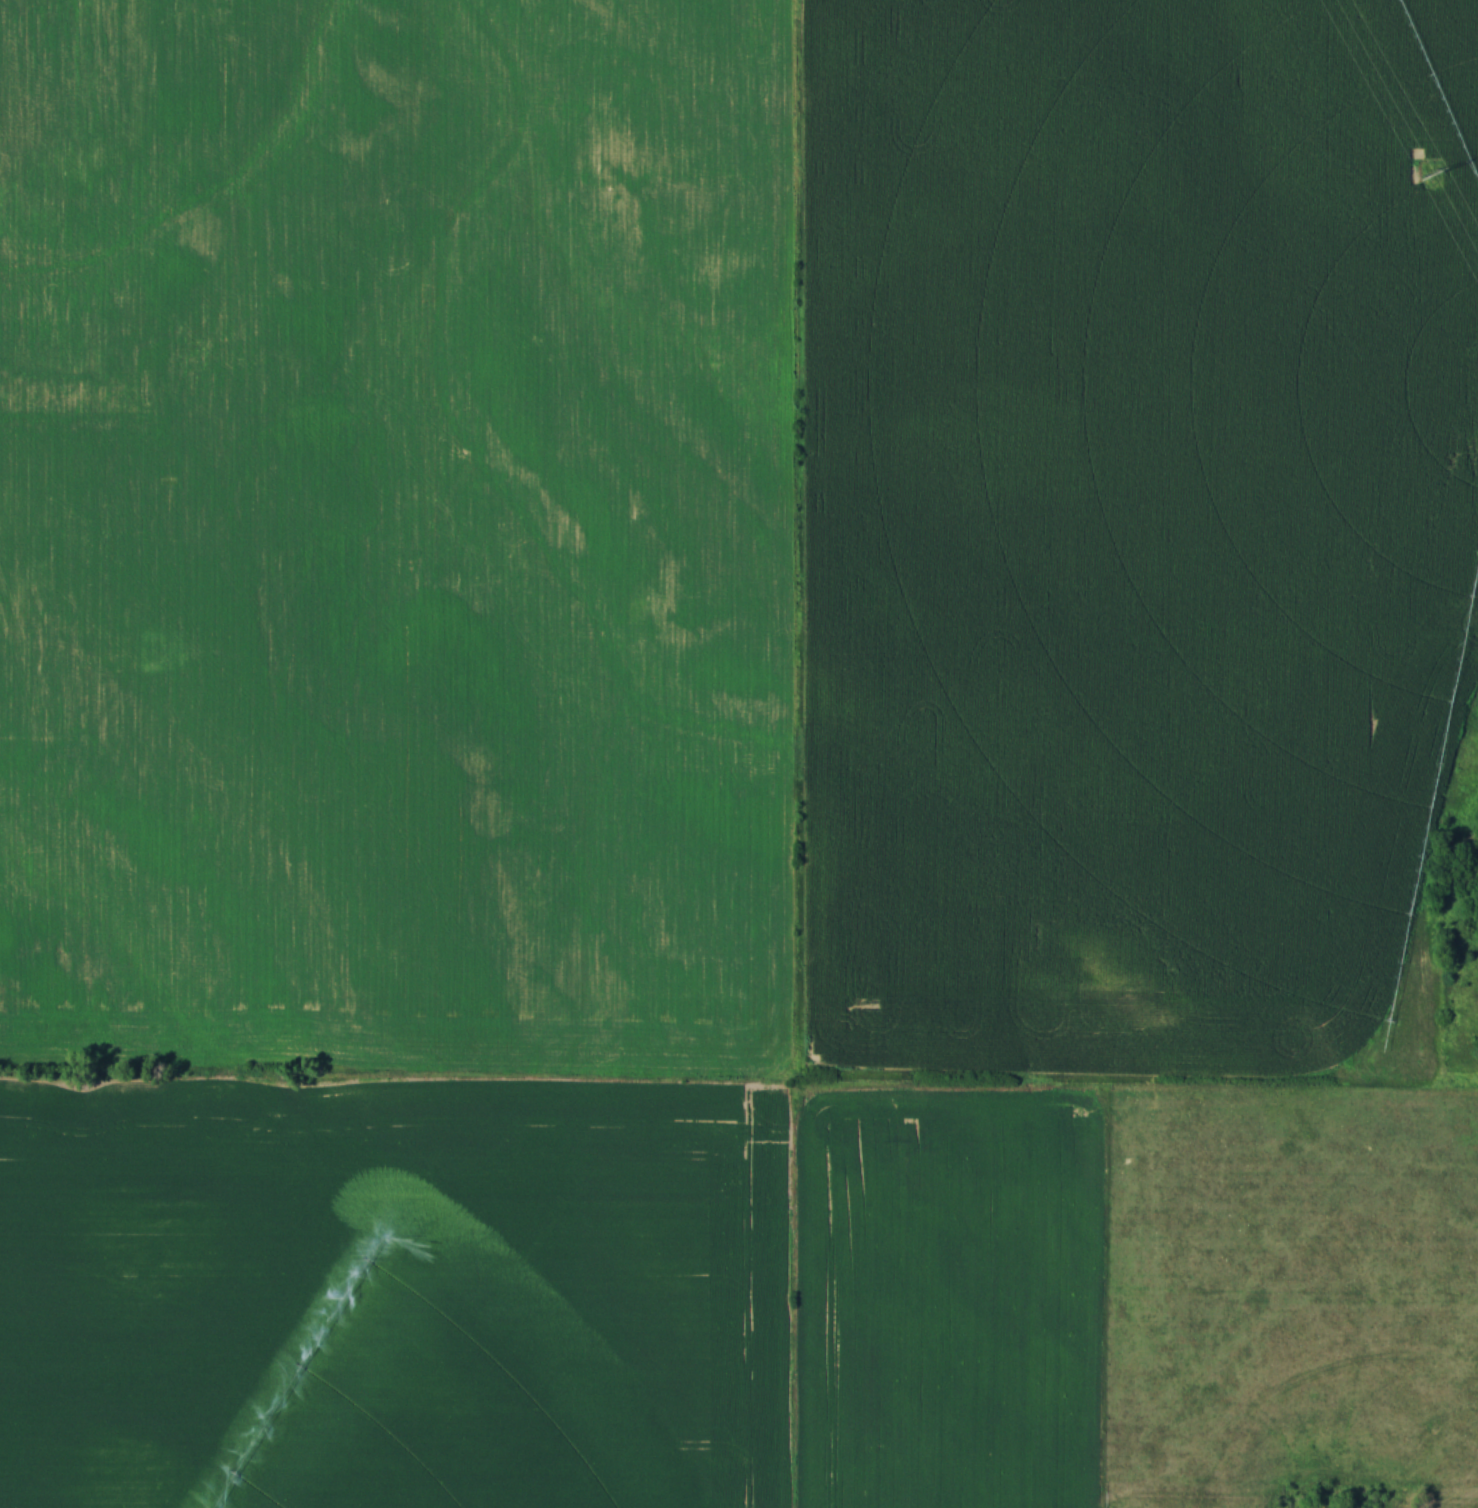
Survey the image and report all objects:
power tower: (1428, 172)

